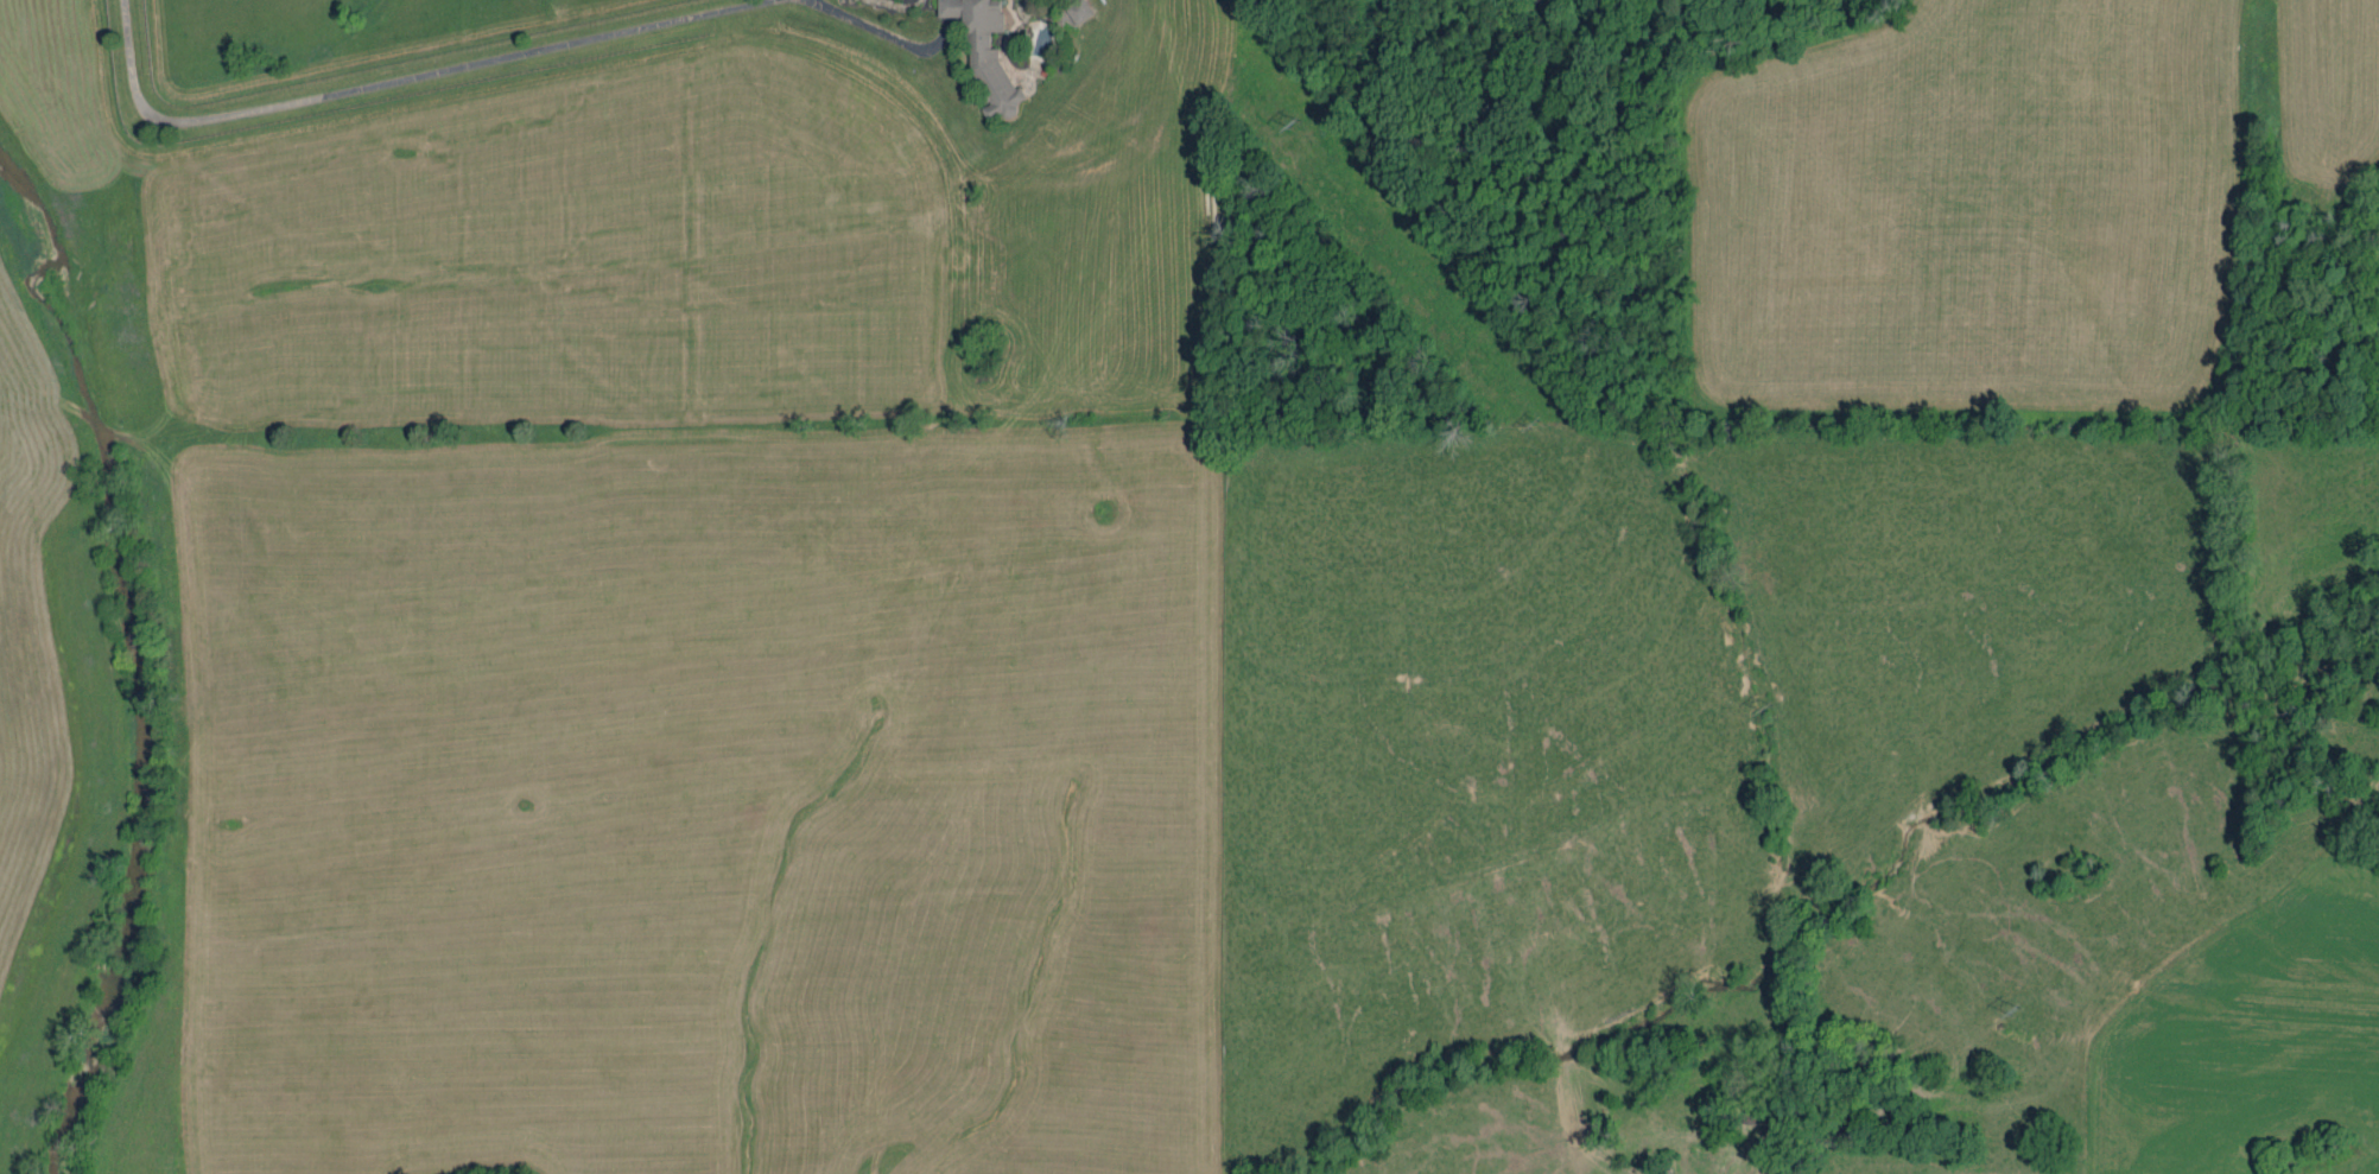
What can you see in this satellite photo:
building: (1076, 12)
building: (985, 52)
road: (398, 80)
power tower: (1292, 118)
power tower: (1765, 704)
power tower: (2012, 1015)

